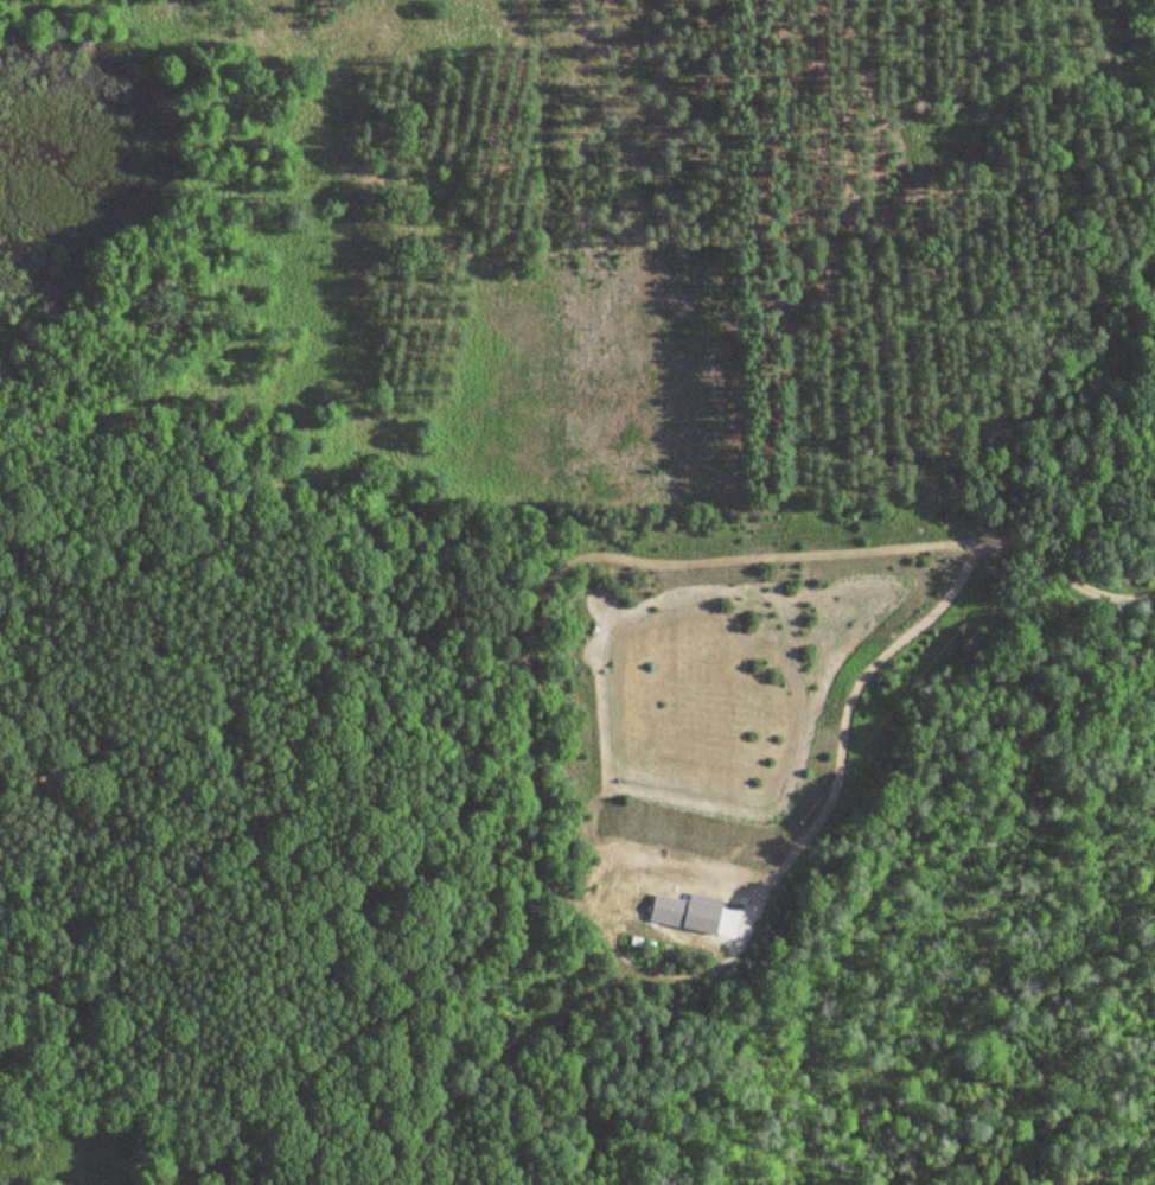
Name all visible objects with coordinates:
building: (704, 916)

